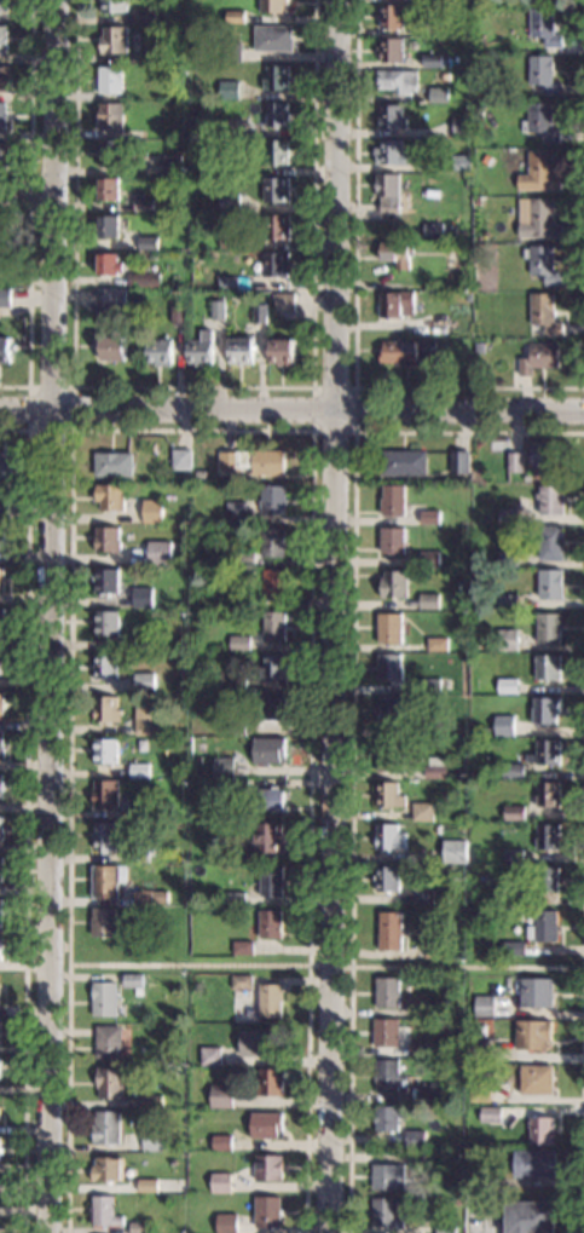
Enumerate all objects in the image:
building: (556, 0)
building: (2, 6)
building: (114, 6)
building: (273, 6)
building: (466, 7)
building: (480, 12)
building: (144, 16)
building: (235, 17)
building: (391, 17)
building: (544, 27)
building: (187, 31)
building: (272, 38)
building: (2, 39)
building: (114, 40)
building: (391, 50)
building: (230, 52)
building: (156, 56)
building: (432, 59)
building: (443, 61)
building: (486, 63)
building: (155, 69)
building: (542, 74)
building: (444, 76)
building: (276, 77)
building: (4, 79)
building: (109, 80)
building: (397, 81)
road: (31, 88)
building: (227, 90)
building: (438, 92)
building: (2, 114)
building: (277, 115)
building: (476, 115)
building: (111, 117)
building: (391, 117)
building: (539, 122)
building: (235, 126)
building: (461, 127)
building: (110, 152)
building: (276, 152)
building: (389, 152)
building: (4, 155)
building: (216, 156)
building: (461, 162)
building: (170, 165)
building: (538, 173)
building: (109, 189)
building: (276, 190)
building: (388, 192)
road: (24, 196)
road: (31, 196)
building: (475, 201)
building: (227, 202)
building: (144, 204)
building: (378, 218)
building: (538, 220)
building: (108, 226)
building: (277, 227)
building: (432, 229)
building: (450, 232)
building: (229, 237)
building: (148, 242)
building: (450, 248)
building: (1, 249)
building: (478, 249)
building: (395, 253)
building: (109, 264)
building: (276, 264)
building: (542, 264)
building: (144, 281)
building: (229, 283)
building: (468, 295)
building: (5, 298)
building: (116, 299)
road: (30, 300)
building: (284, 303)
building: (395, 304)
road: (354, 309)
building: (218, 310)
building: (543, 312)
building: (259, 313)
building: (177, 315)
building: (478, 347)
building: (112, 348)
building: (200, 348)
building: (6, 350)
building: (239, 351)
building: (158, 352)
building: (281, 352)
building: (406, 352)
building: (537, 358)
road: (193, 387)
road: (312, 387)
road: (291, 414)
road: (73, 430)
road: (192, 431)
building: (544, 454)
building: (181, 460)
building: (251, 461)
building: (457, 461)
building: (403, 462)
building: (514, 462)
building: (8, 465)
building: (114, 465)
building: (110, 497)
building: (272, 500)
building: (549, 500)
building: (392, 501)
building: (4, 511)
building: (152, 512)
building: (235, 512)
building: (507, 515)
building: (428, 517)
building: (1, 538)
building: (108, 540)
building: (391, 541)
building: (272, 542)
building: (549, 543)
building: (160, 553)
building: (243, 558)
building: (505, 558)
building: (428, 559)
building: (2, 578)
building: (106, 581)
building: (273, 583)
building: (393, 583)
building: (549, 584)
building: (141, 598)
building: (230, 599)
building: (507, 600)
building: (428, 601)
road: (48, 616)
road: (330, 616)
building: (1, 621)
building: (108, 623)
building: (273, 627)
building: (388, 628)
building: (547, 628)
building: (143, 640)
building: (507, 640)
building: (239, 644)
building: (436, 644)
building: (1, 661)
building: (105, 666)
building: (272, 666)
building: (387, 667)
building: (547, 667)
building: (138, 685)
building: (236, 686)
building: (429, 686)
building: (507, 686)
building: (1, 703)
building: (272, 708)
building: (393, 708)
building: (106, 709)
building: (544, 709)
road: (352, 718)
building: (145, 721)
building: (503, 726)
building: (235, 728)
building: (429, 728)
building: (486, 739)
building: (1, 747)
building: (106, 750)
building: (267, 750)
building: (544, 753)
building: (388, 755)
building: (222, 767)
building: (434, 768)
building: (139, 771)
building: (511, 771)
building: (0, 784)
building: (237, 788)
building: (105, 794)
building: (388, 794)
building: (547, 794)
building: (270, 800)
building: (139, 812)
building: (422, 812)
building: (513, 813)
road: (27, 817)
building: (0, 826)
building: (218, 826)
building: (105, 836)
building: (547, 836)
building: (388, 837)
building: (262, 840)
building: (453, 852)
building: (139, 854)
building: (513, 855)
building: (0, 868)
building: (386, 878)
building: (547, 878)
building: (108, 881)
building: (270, 881)
building: (422, 895)
building: (149, 897)
building: (235, 898)
building: (513, 898)
building: (143, 911)
building: (0, 912)
building: (103, 922)
building: (270, 924)
building: (543, 927)
building: (388, 930)
building: (412, 932)
building: (447, 944)
building: (0, 945)
building: (242, 947)
building: (434, 947)
building: (513, 949)
building: (496, 951)
road: (189, 966)
road: (329, 966)
road: (467, 967)
building: (132, 980)
building: (241, 983)
building: (386, 992)
building: (536, 992)
building: (103, 998)
building: (270, 999)
building: (484, 1006)
building: (434, 1007)
building: (0, 1031)
building: (384, 1032)
building: (531, 1035)
building: (108, 1042)
building: (258, 1043)
building: (417, 1049)
building: (478, 1050)
building: (210, 1056)
building: (438, 1062)
building: (387, 1076)
building: (536, 1081)
building: (268, 1082)
building: (109, 1083)
building: (478, 1091)
building: (220, 1096)
building: (427, 1096)
road: (582, 1100)
building: (152, 1101)
building: (490, 1114)
building: (387, 1118)
building: (265, 1125)
building: (106, 1128)
building: (539, 1130)
building: (154, 1140)
building: (414, 1140)
building: (221, 1143)
building: (170, 1147)
building: (418, 1160)
building: (533, 1164)
building: (267, 1168)
building: (106, 1170)
building: (485, 1175)
building: (387, 1177)
building: (220, 1182)
building: (146, 1186)
building: (458, 1202)
building: (104, 1211)
building: (266, 1212)
building: (384, 1212)
building: (530, 1216)
building: (421, 1221)
building: (226, 1223)
road: (487, 1226)
building: (139, 1227)
building: (445, 1229)

